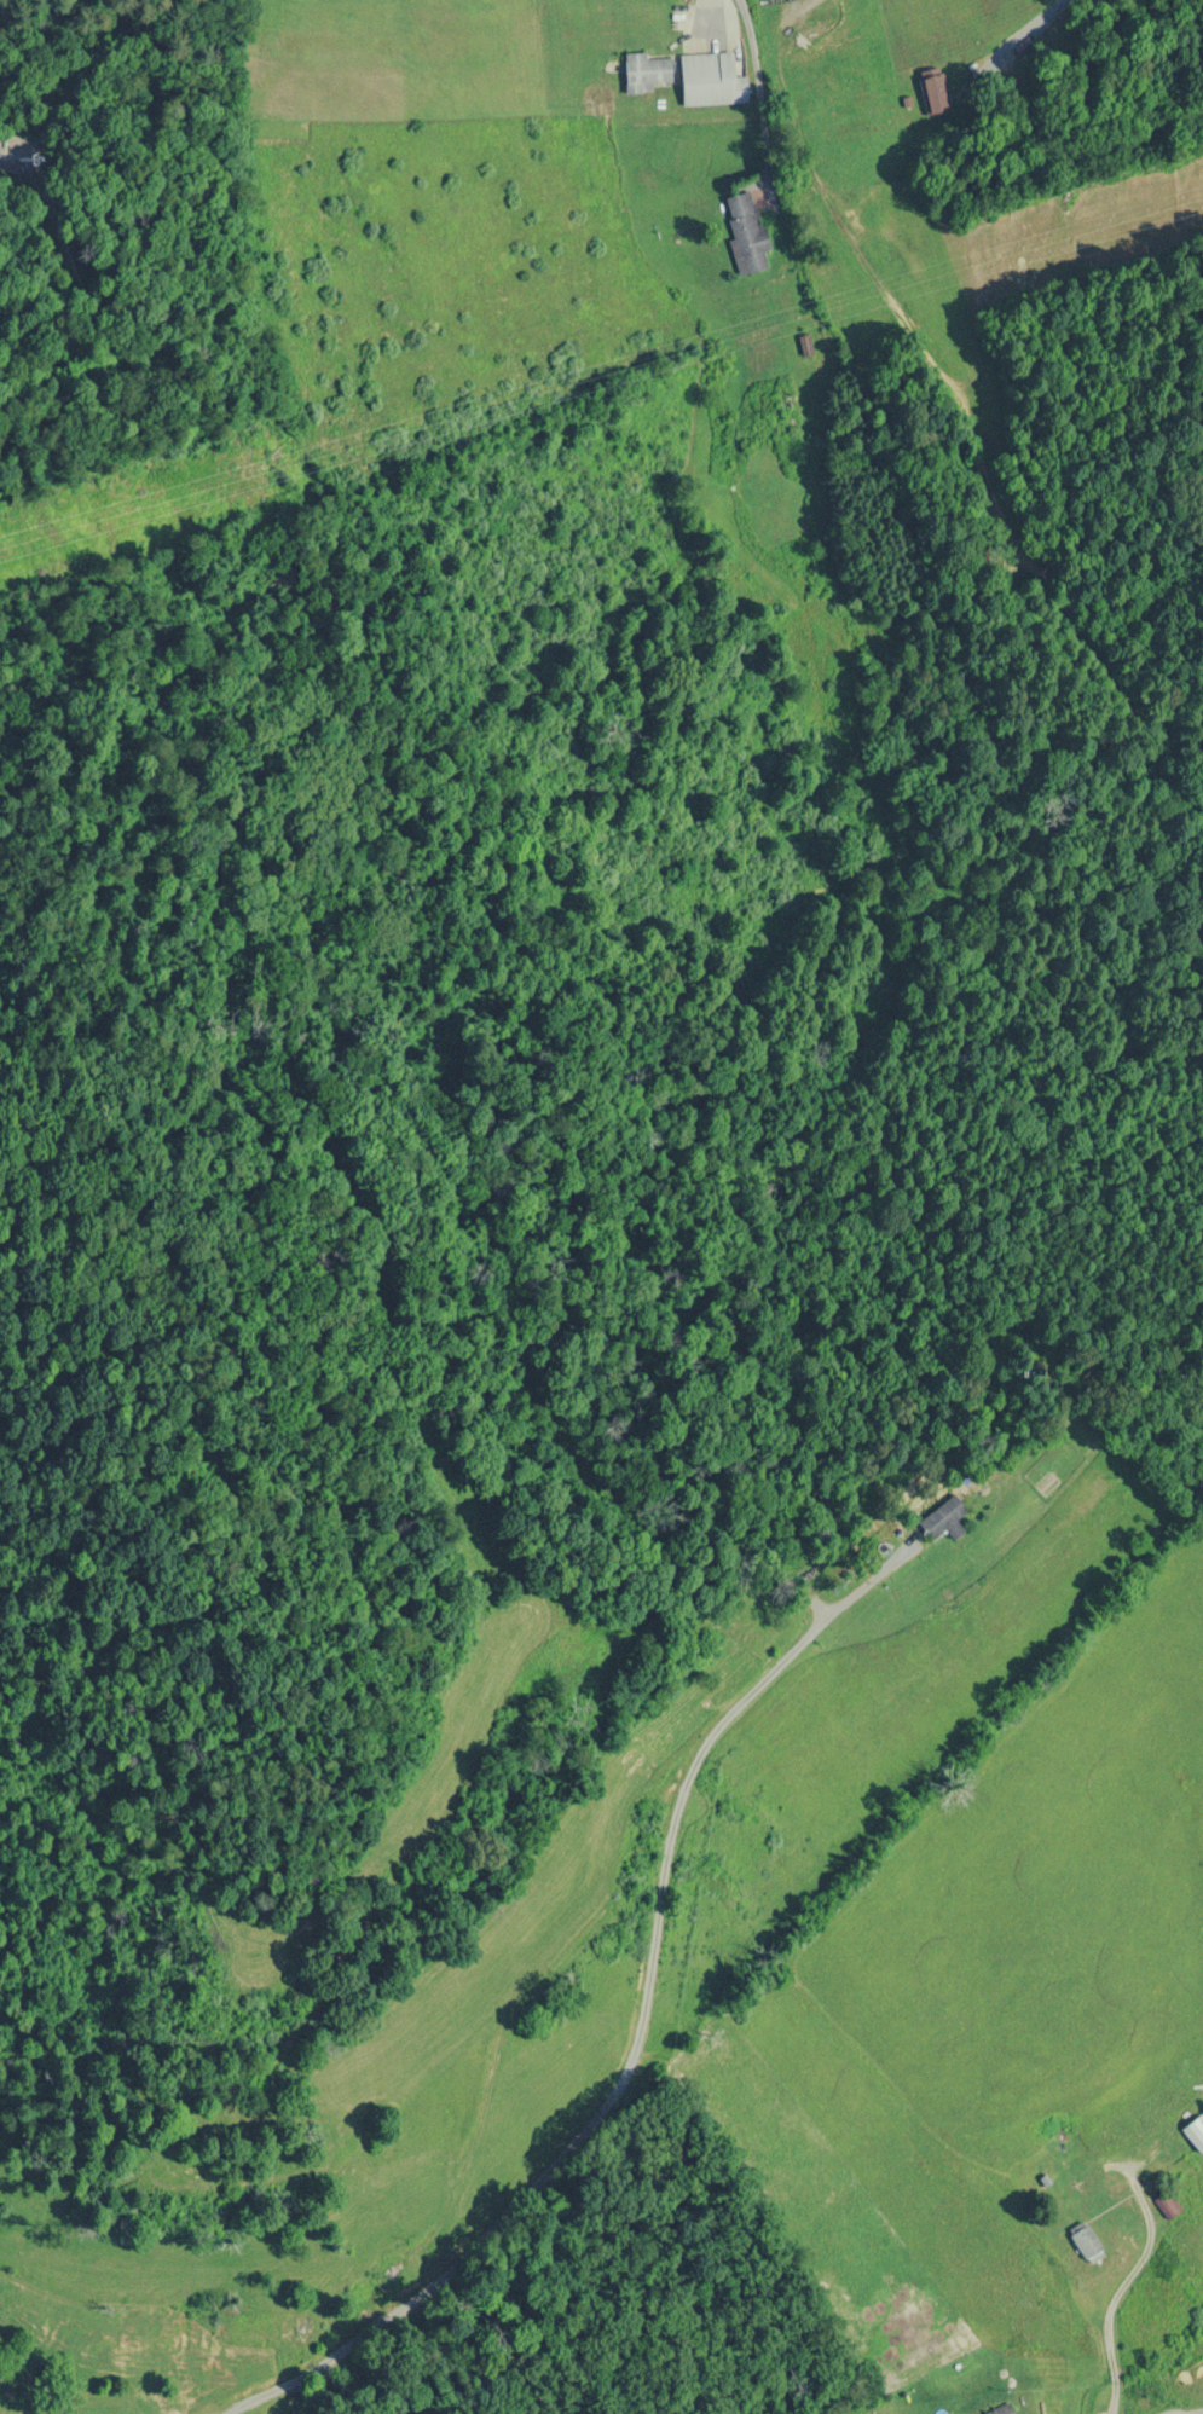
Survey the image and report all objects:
building: (644, 71)
building: (710, 80)
building: (745, 231)
building: (945, 1519)
building: (1196, 2131)
building: (1087, 2242)
building: (1004, 2410)

